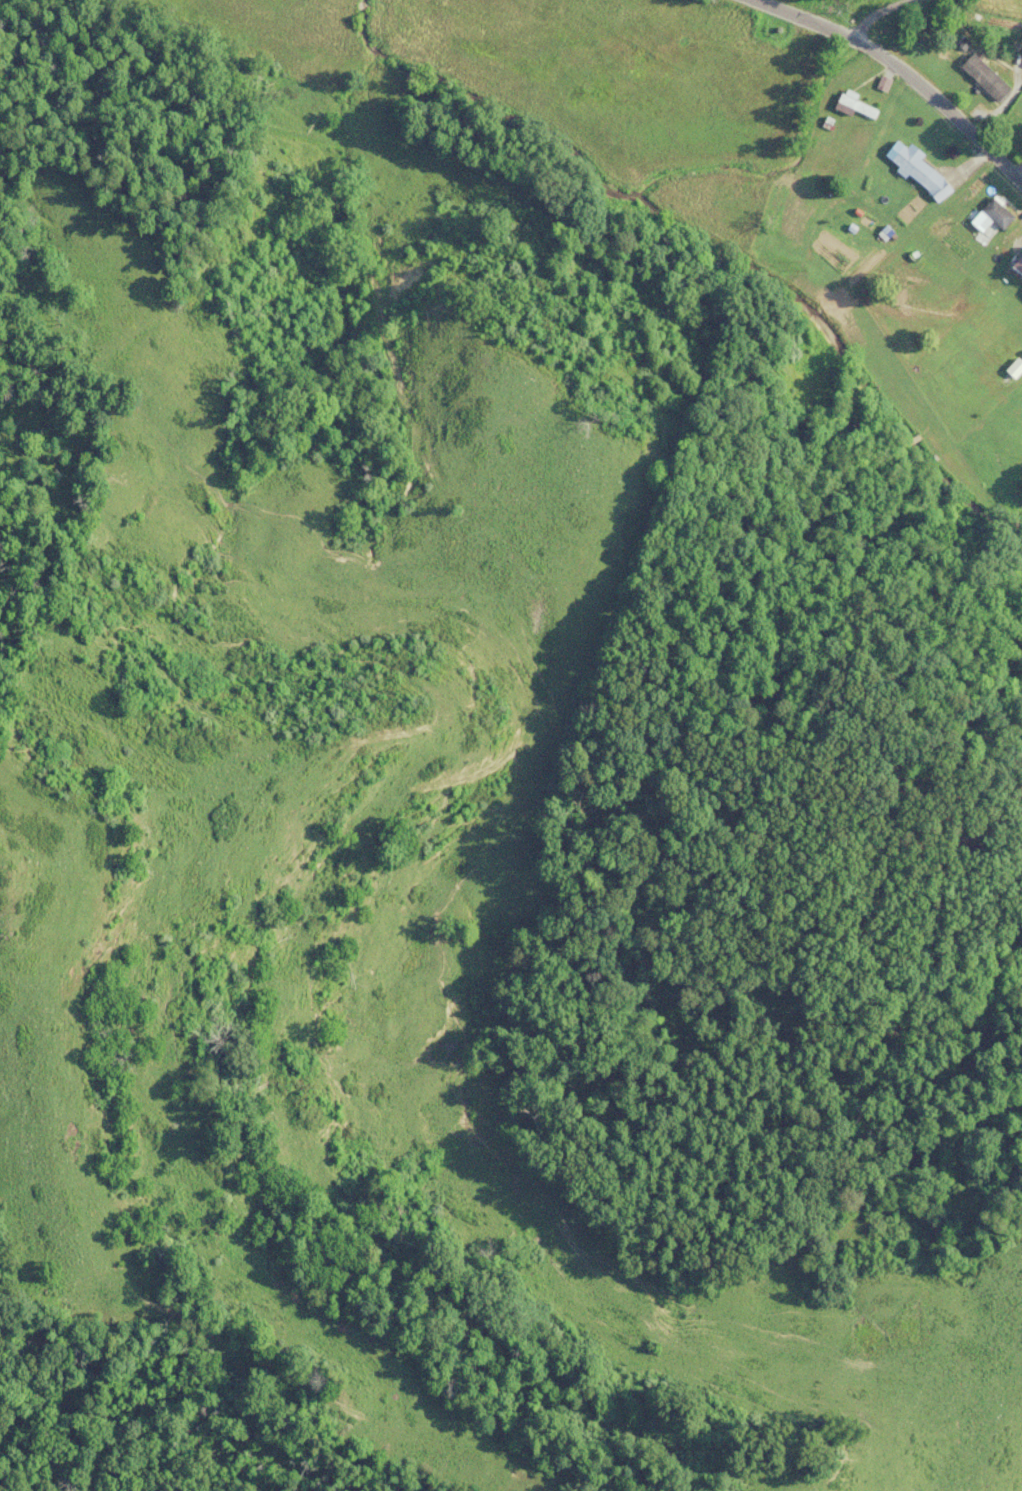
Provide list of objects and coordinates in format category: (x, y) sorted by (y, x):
road: (903, 71)
building: (980, 77)
building: (849, 104)
building: (821, 134)
building: (914, 168)
building: (993, 212)
building: (1015, 262)

